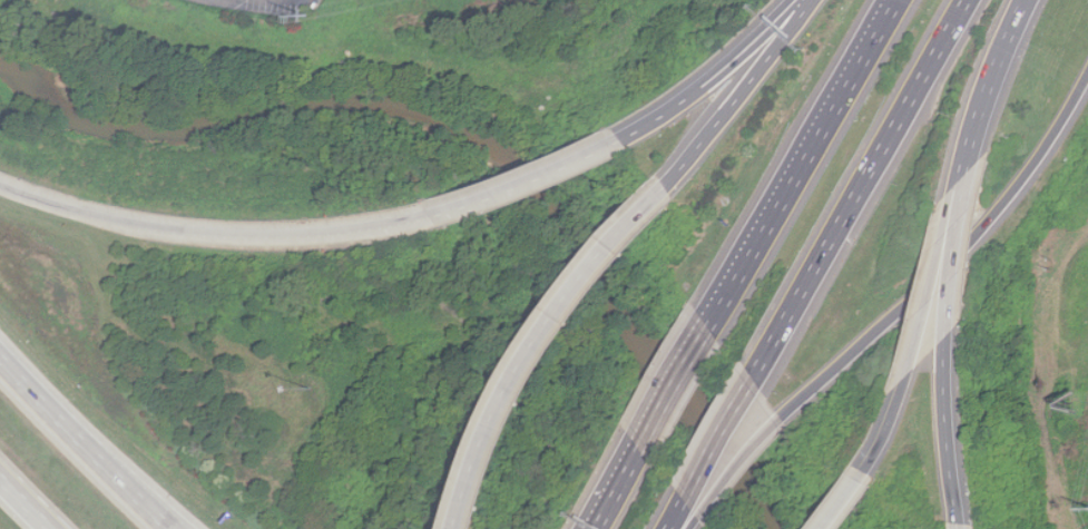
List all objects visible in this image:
road: (714, 76)
road: (987, 86)
road: (739, 95)
river: (371, 104)
road: (798, 164)
road: (856, 190)
road: (69, 208)
road: (389, 226)
road: (950, 257)
road: (950, 258)
road: (932, 275)
road: (551, 349)
road: (9, 368)
road: (672, 386)
road: (888, 424)
road: (947, 430)
river: (716, 440)
road: (716, 440)
road: (95, 454)
road: (738, 466)
road: (615, 488)
road: (847, 500)
road: (23, 504)
road: (676, 513)
road: (690, 522)
road: (960, 526)

